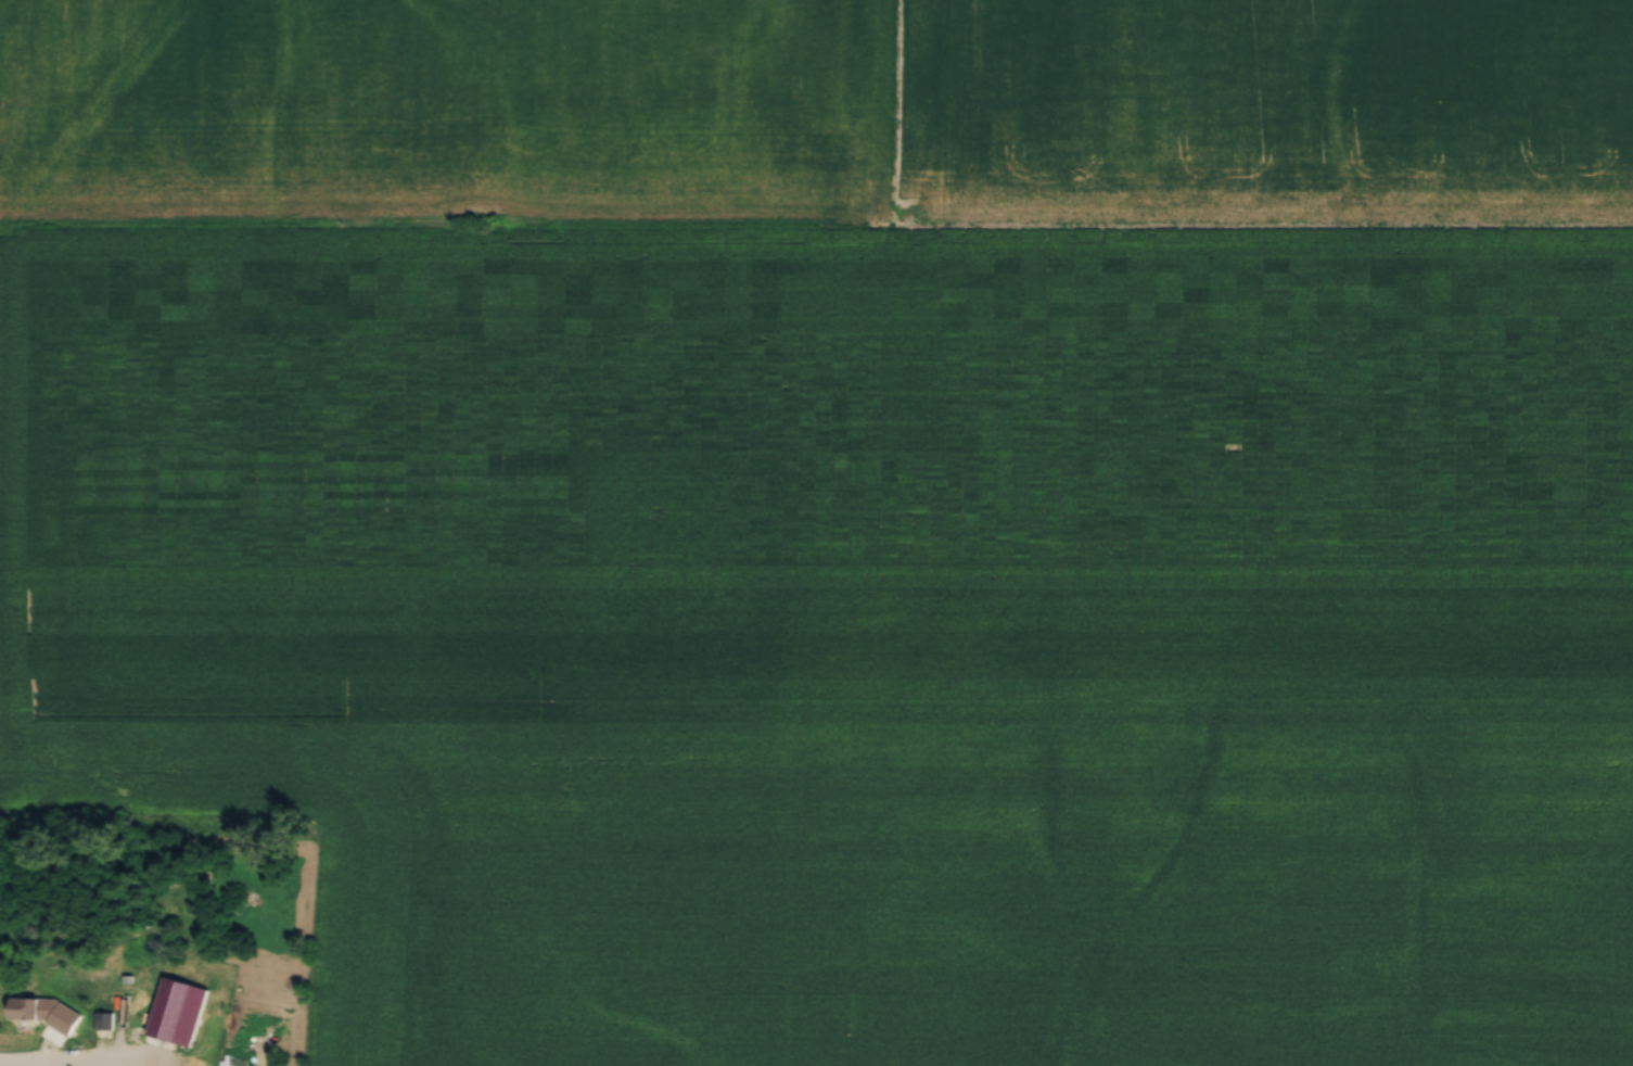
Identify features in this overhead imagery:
building: (27, 1006)
building: (178, 1010)
building: (104, 1018)
road: (20, 1063)

